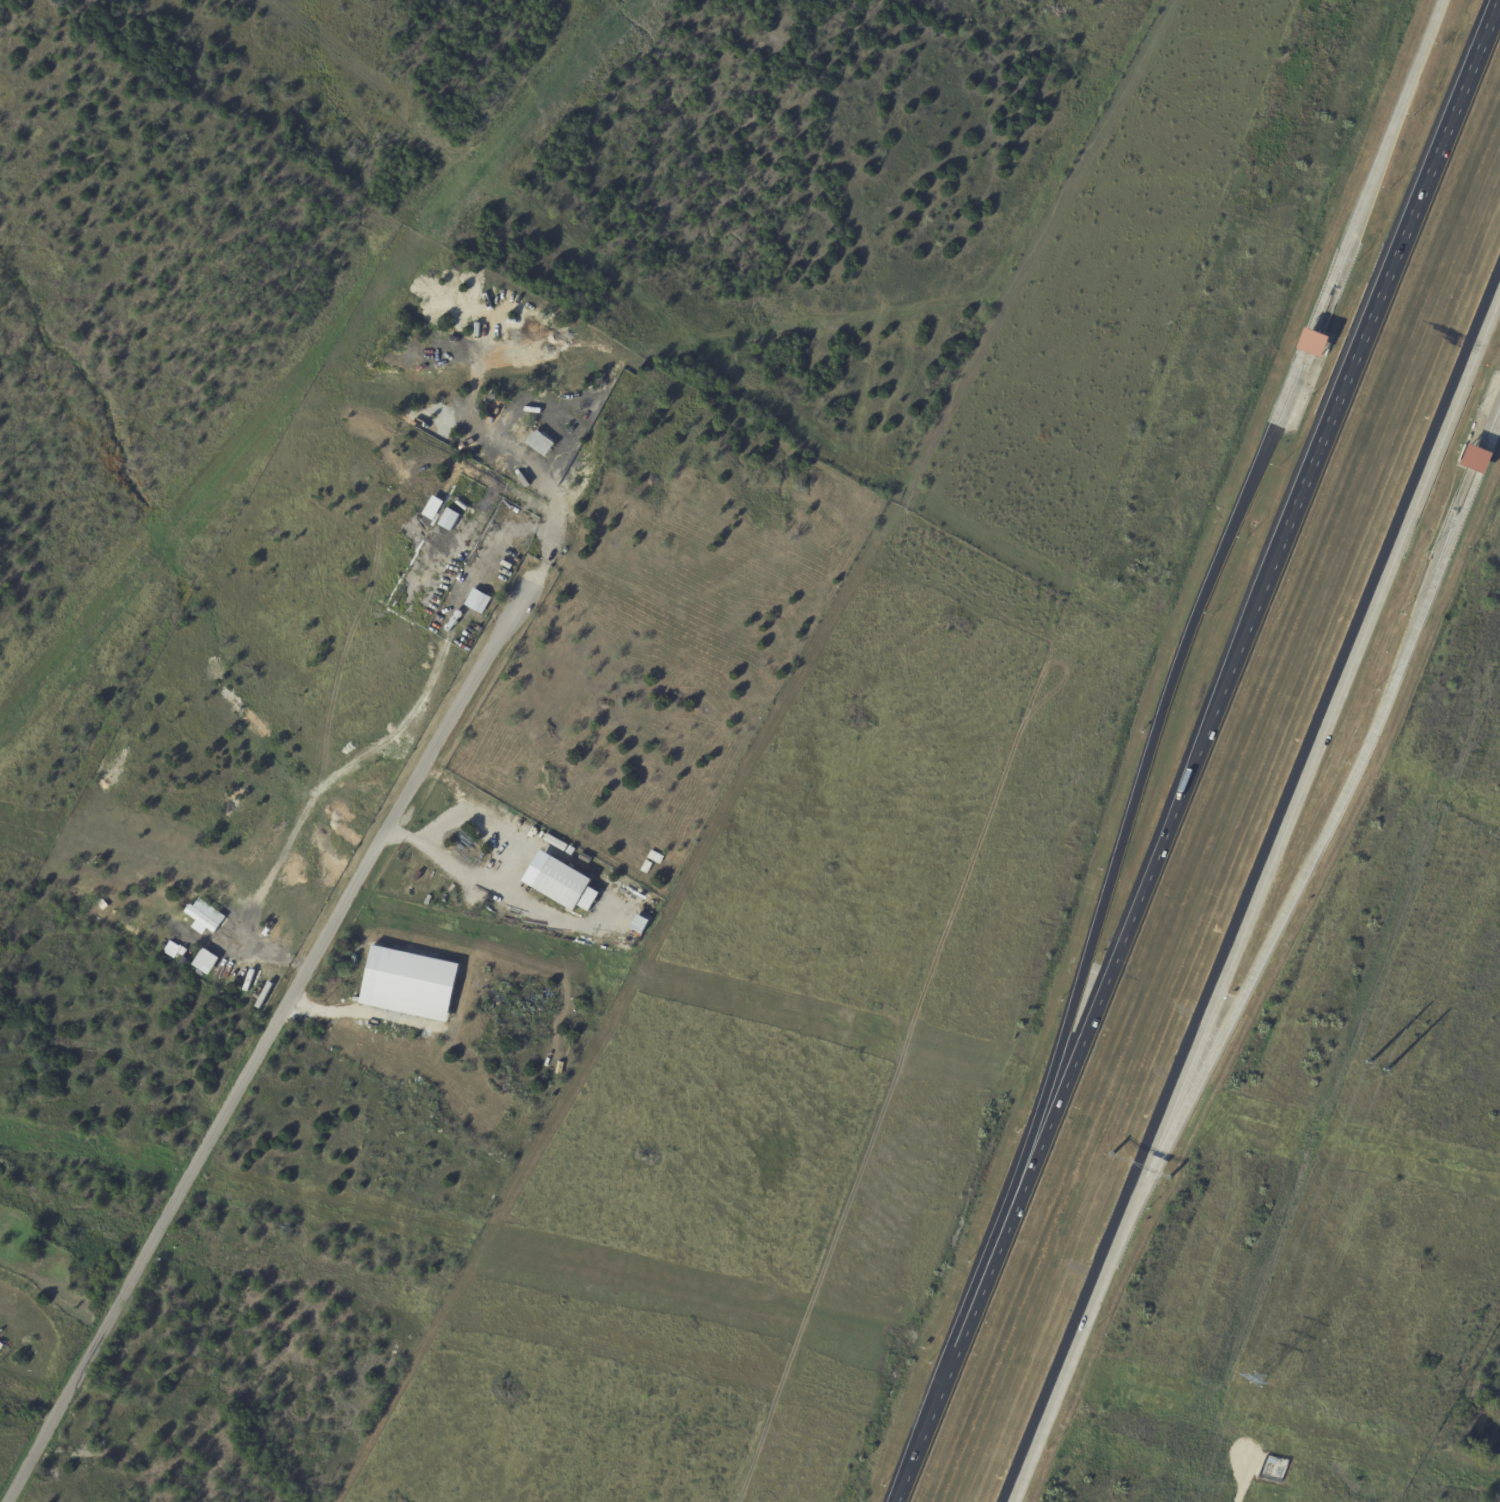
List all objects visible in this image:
road: (1379, 166)
road: (1305, 340)
building: (1312, 343)
road: (1285, 395)
parking lot: (1487, 408)
parking lot: (1290, 423)
road: (1493, 432)
building: (539, 442)
building: (1476, 459)
road: (1482, 461)
building: (432, 508)
building: (448, 519)
building: (477, 601)
road: (1319, 733)
road: (1198, 751)
road: (1328, 840)
road: (1126, 842)
road: (522, 868)
building: (565, 885)
building: (204, 917)
building: (205, 961)
building: (409, 984)
road: (357, 1015)
road: (269, 1038)
power tower: (1379, 1067)
road: (1072, 1345)
power tower: (1252, 1385)
road: (1251, 1477)

